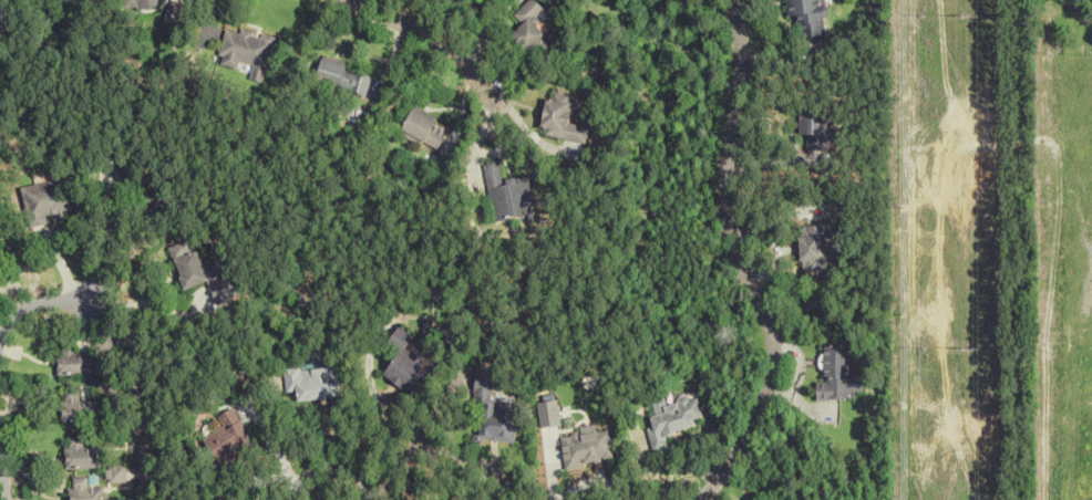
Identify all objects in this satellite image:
building: (48, 1)
road: (347, 2)
building: (140, 4)
building: (171, 13)
power tower: (967, 17)
building: (813, 18)
building: (535, 30)
road: (426, 37)
building: (243, 53)
building: (342, 77)
building: (567, 117)
building: (820, 126)
building: (424, 128)
building: (509, 194)
building: (47, 201)
road: (100, 239)
building: (822, 243)
road: (742, 262)
building: (194, 269)
building: (1, 279)
road: (35, 302)
power tower: (966, 346)
building: (70, 361)
building: (406, 364)
building: (842, 373)
building: (310, 382)
building: (76, 409)
building: (496, 410)
road: (135, 417)
building: (674, 420)
building: (226, 438)
building: (588, 447)
building: (78, 455)
road: (313, 472)
building: (113, 473)
road: (1, 485)
building: (81, 490)
road: (293, 491)

